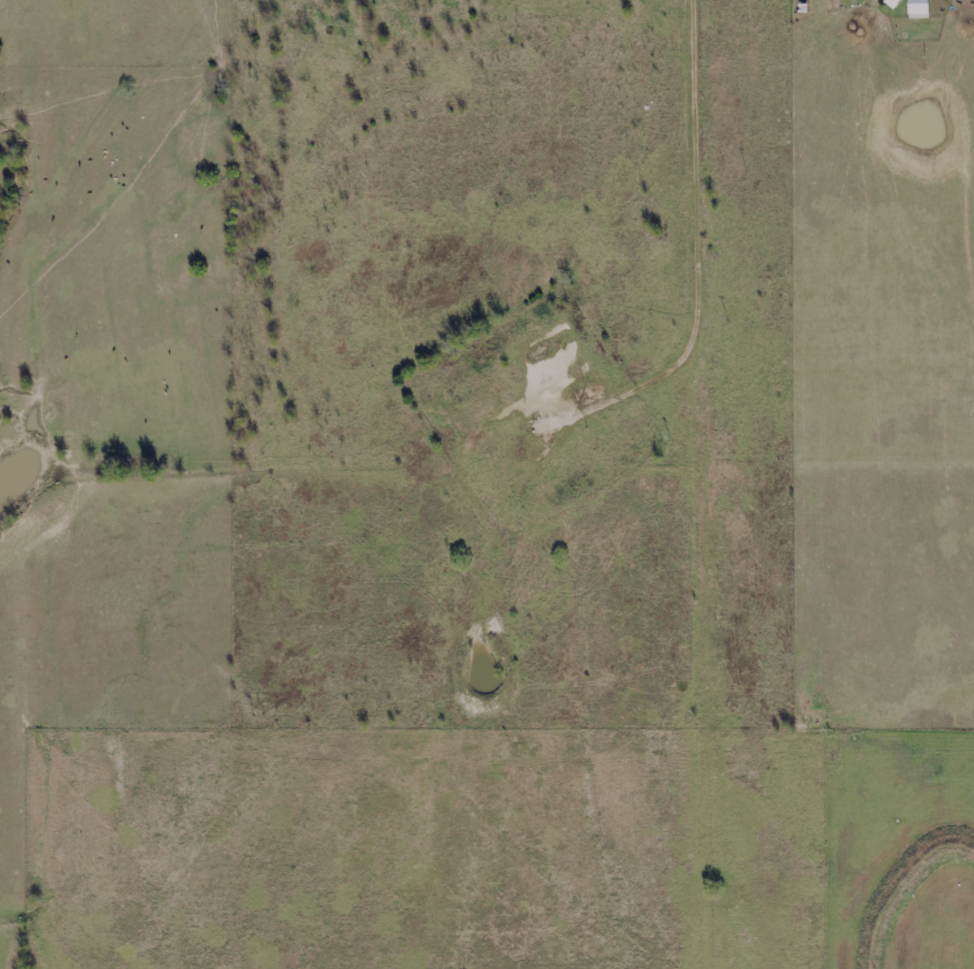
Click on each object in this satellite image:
building: (897, 3)
building: (923, 9)
road: (700, 12)

